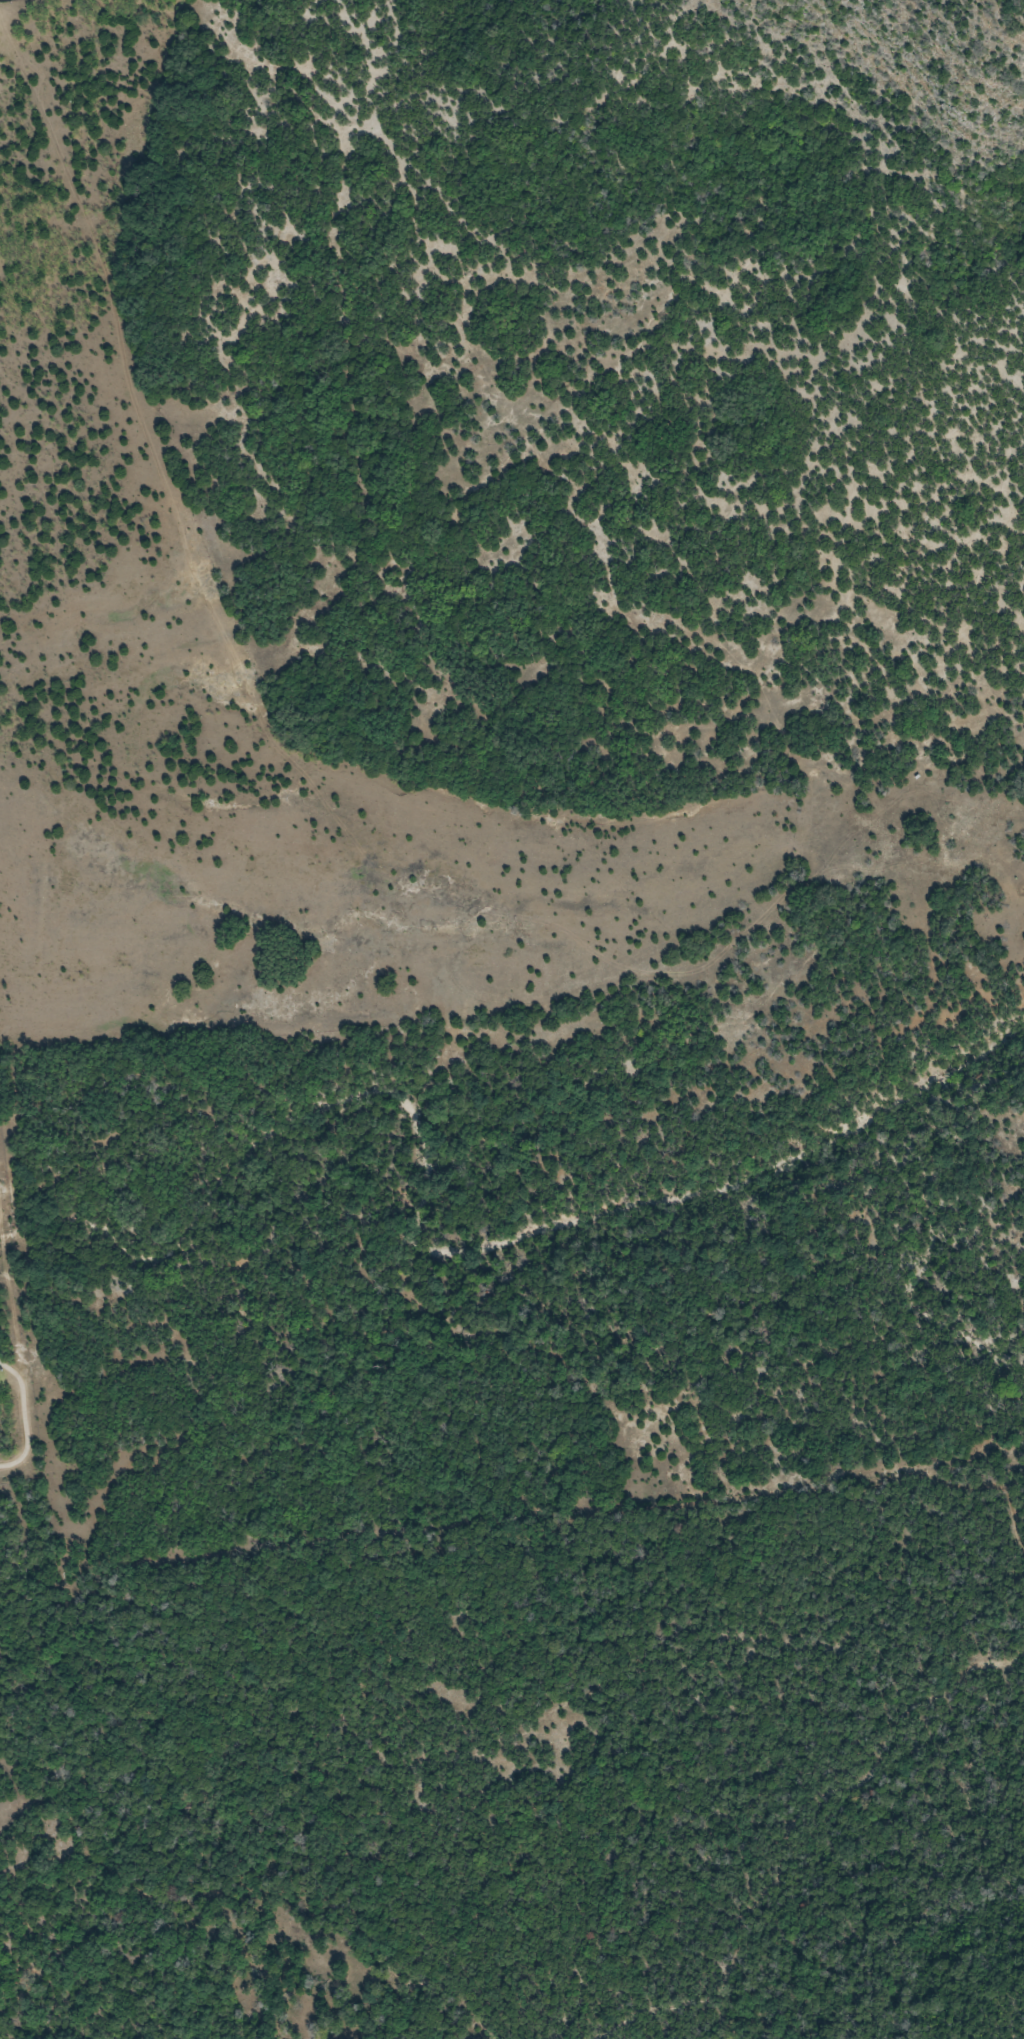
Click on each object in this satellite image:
park: (18, 1349)
road: (25, 1417)

